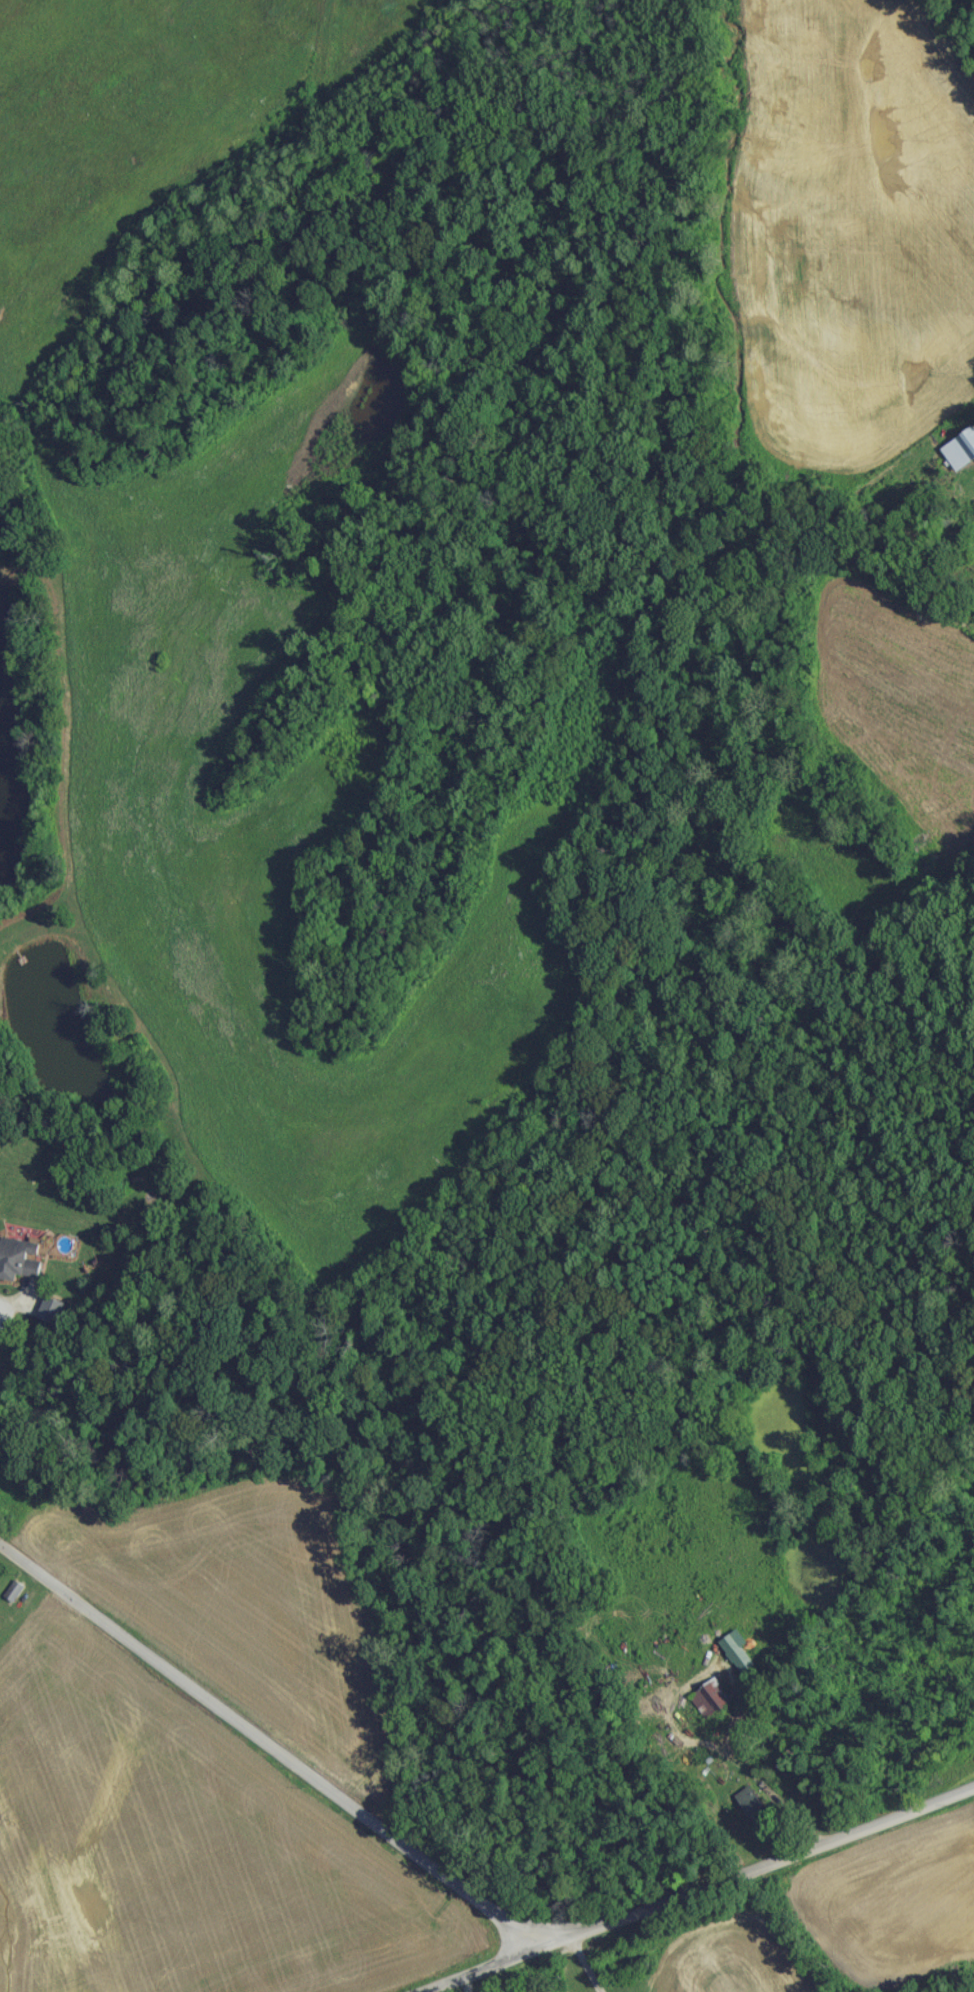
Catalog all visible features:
building: (22, 1266)
building: (16, 1597)
road: (267, 1749)
road: (701, 1883)
road: (584, 1965)

